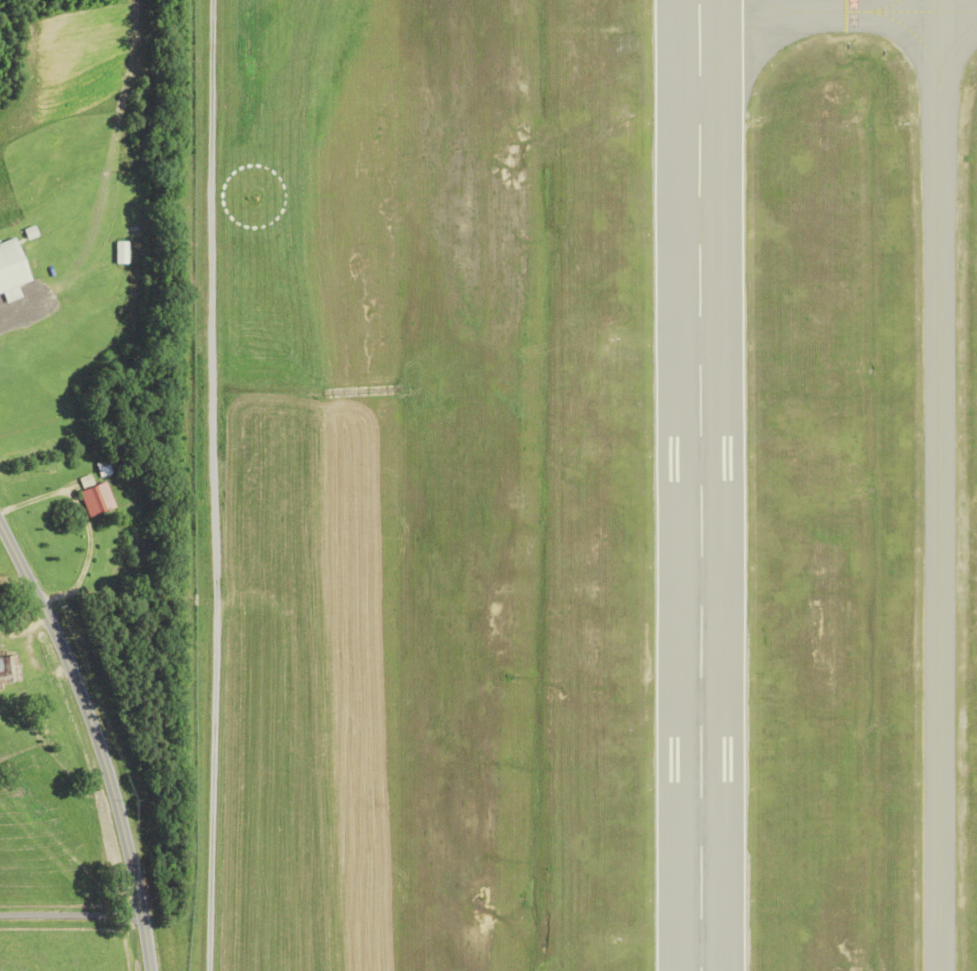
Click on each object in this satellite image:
airport taxiway: (837, 12)
building: (122, 252)
road: (213, 485)
airport runway: (698, 485)
airport taxiway: (938, 485)
building: (98, 499)
building: (10, 669)
road: (96, 738)
road: (55, 787)
road: (72, 915)

